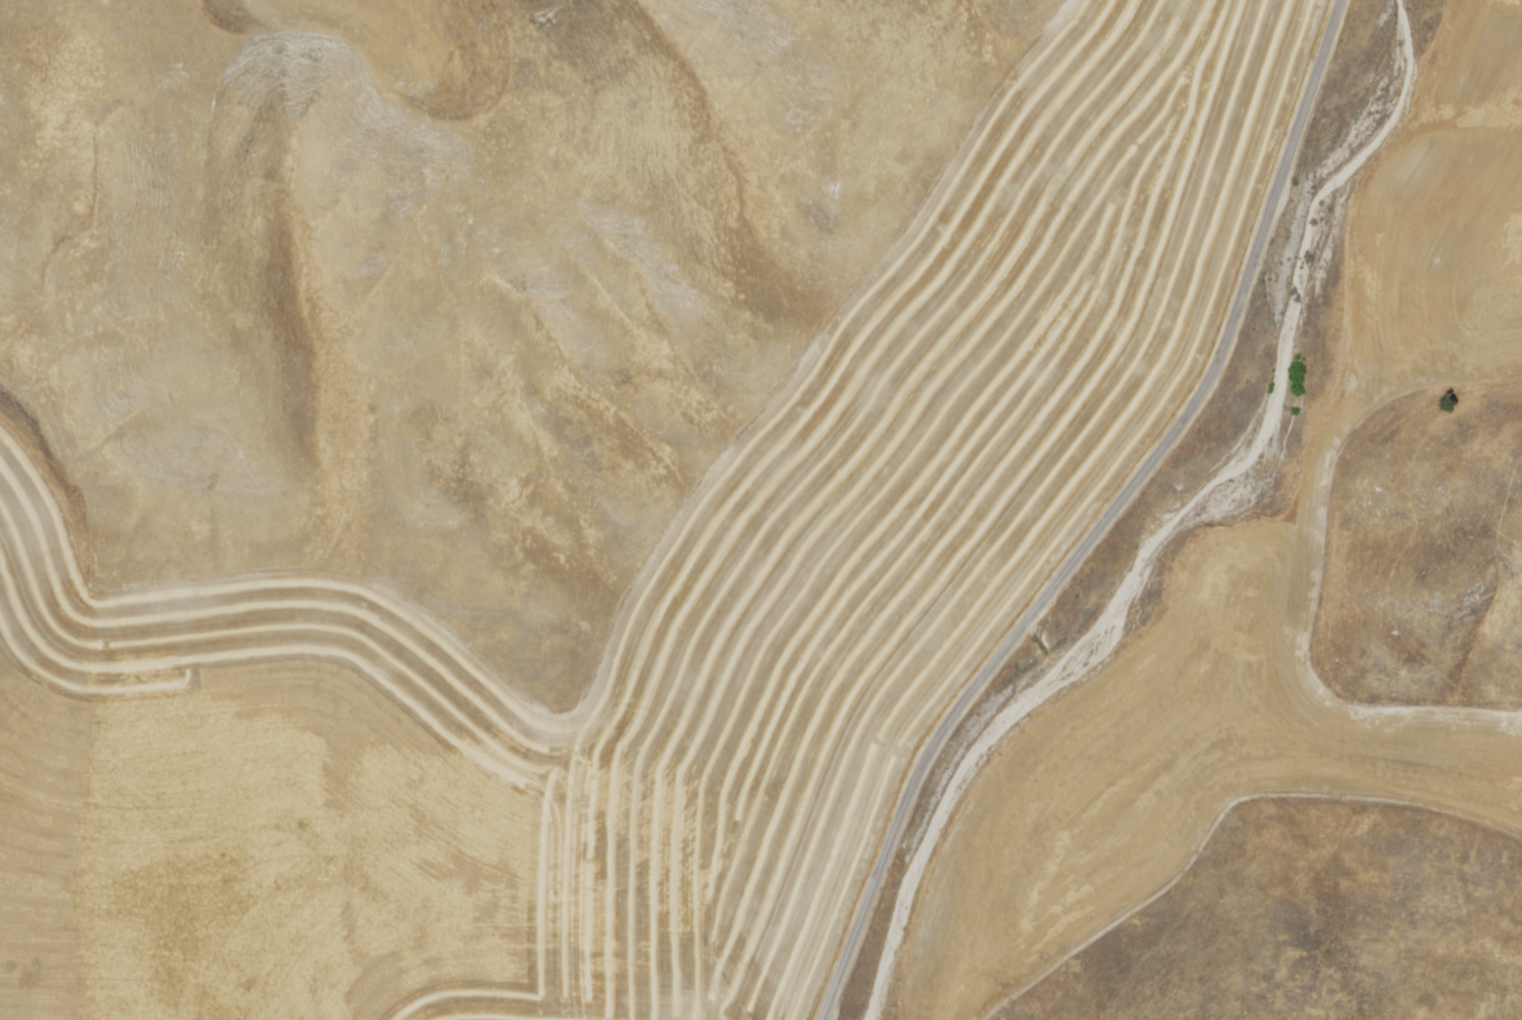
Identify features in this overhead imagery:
road: (1099, 520)

